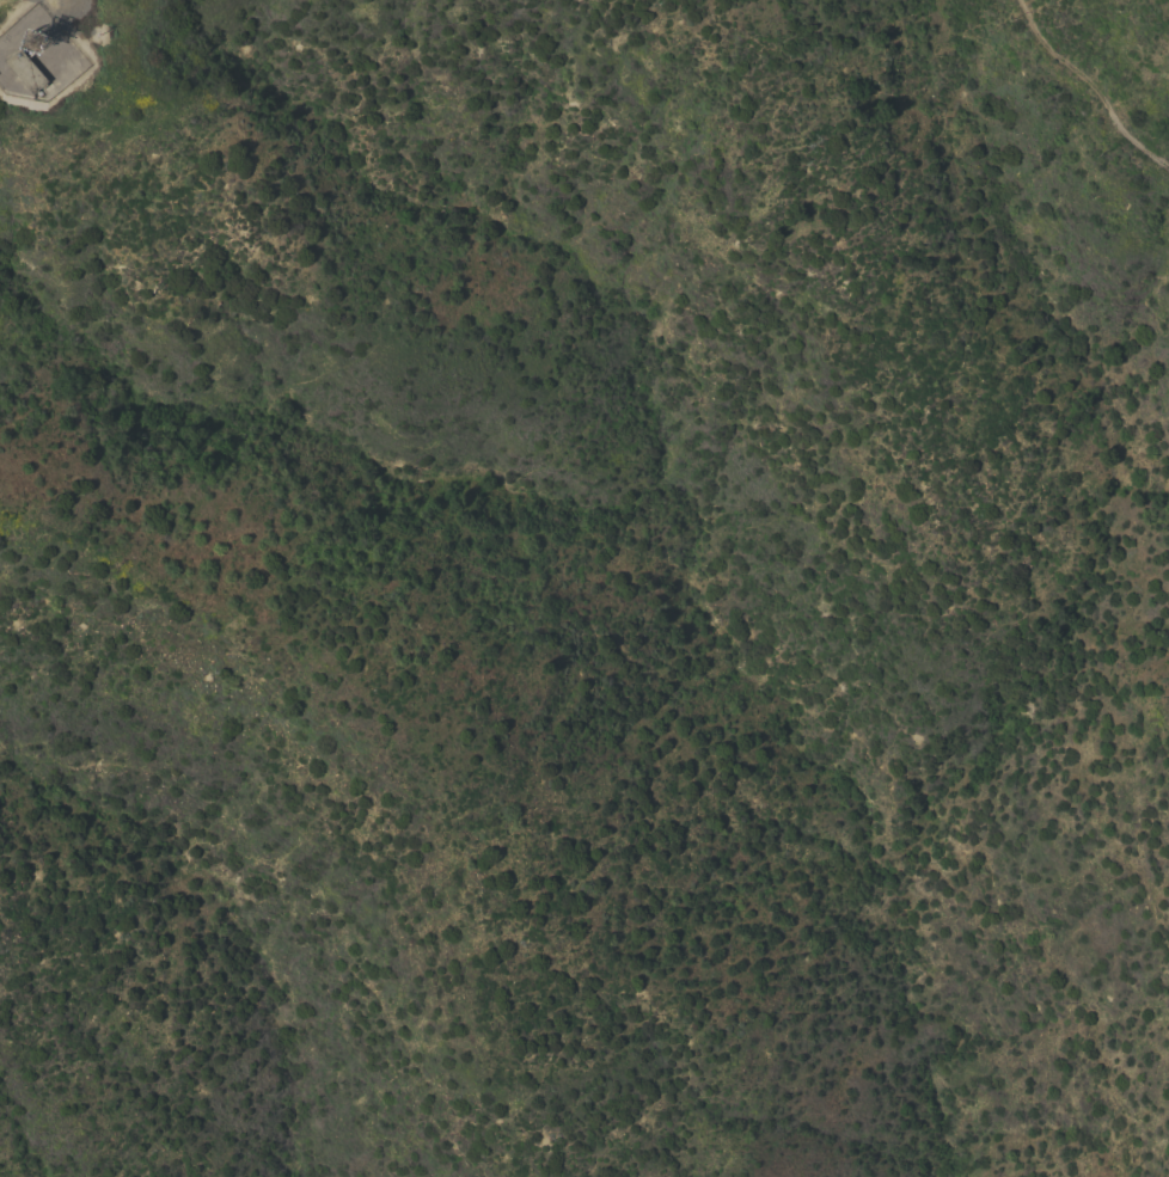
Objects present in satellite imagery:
road: (1084, 96)

